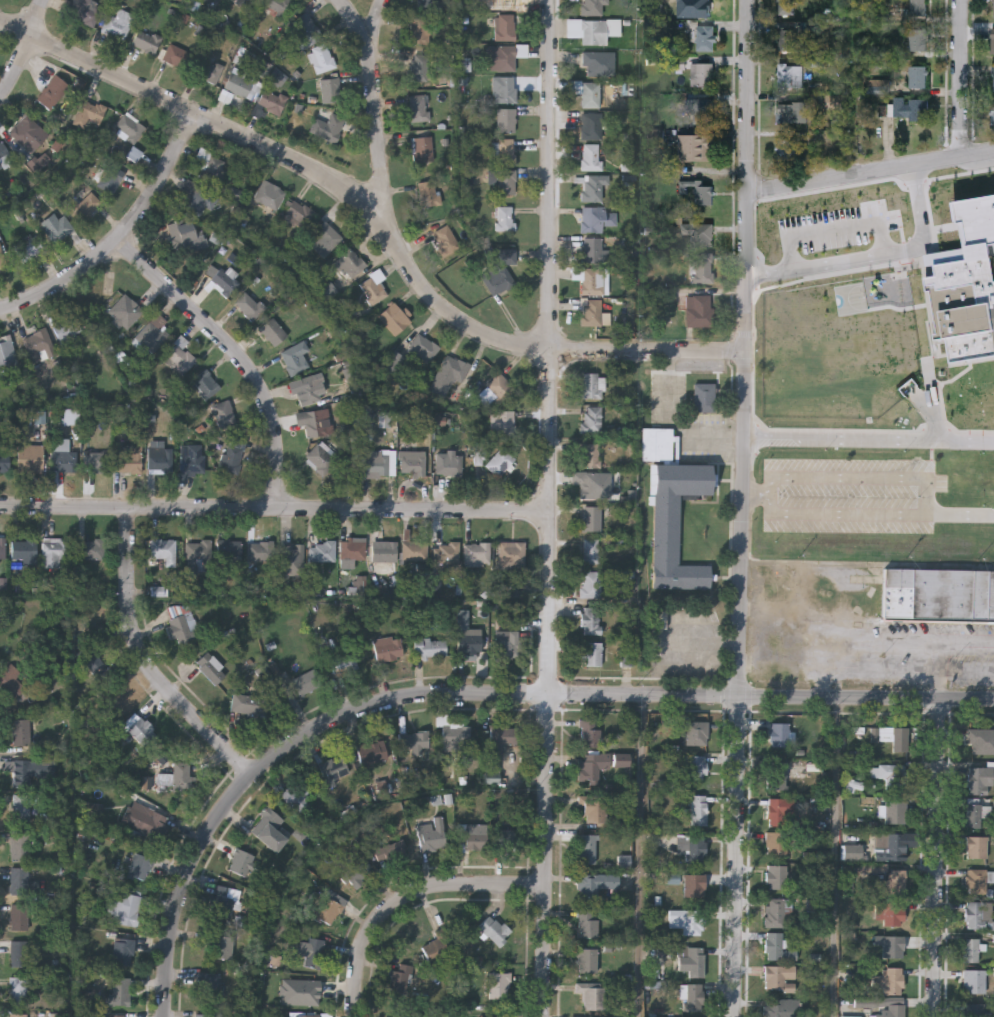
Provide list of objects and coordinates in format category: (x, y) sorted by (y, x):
building: (250, 1)
building: (428, 4)
building: (505, 4)
building: (703, 6)
building: (278, 7)
building: (592, 7)
building: (787, 7)
building: (918, 7)
building: (993, 8)
building: (85, 11)
road: (373, 22)
building: (117, 24)
building: (505, 26)
building: (305, 28)
building: (595, 29)
building: (418, 31)
building: (705, 36)
building: (785, 38)
building: (917, 39)
building: (145, 40)
building: (992, 40)
road: (23, 48)
building: (176, 55)
building: (503, 56)
building: (321, 57)
building: (591, 63)
building: (416, 66)
building: (209, 70)
building: (701, 73)
building: (790, 75)
building: (917, 76)
building: (993, 76)
road: (961, 77)
building: (238, 81)
building: (330, 88)
building: (503, 88)
building: (51, 90)
building: (589, 93)
building: (270, 101)
building: (837, 101)
building: (416, 107)
building: (909, 107)
building: (700, 109)
building: (792, 110)
building: (87, 111)
building: (992, 111)
road: (375, 113)
building: (505, 119)
building: (590, 124)
building: (129, 125)
building: (327, 126)
building: (26, 131)
building: (695, 145)
building: (785, 146)
building: (422, 147)
building: (3, 149)
building: (590, 155)
building: (506, 164)
building: (211, 168)
road: (869, 170)
parking lot: (917, 178)
building: (592, 186)
building: (427, 192)
building: (702, 192)
building: (268, 194)
building: (196, 196)
building: (90, 203)
building: (299, 210)
parking lot: (986, 215)
building: (504, 217)
building: (591, 218)
road: (372, 219)
building: (58, 227)
road: (834, 229)
building: (181, 232)
building: (701, 233)
road: (122, 237)
building: (324, 238)
building: (443, 239)
building: (26, 246)
building: (591, 249)
road: (873, 254)
building: (965, 256)
building: (2, 262)
building: (345, 263)
building: (702, 266)
building: (500, 270)
building: (225, 279)
building: (592, 280)
building: (372, 285)
building: (869, 290)
building: (249, 304)
building: (115, 309)
building: (698, 309)
building: (591, 311)
building: (393, 317)
building: (66, 326)
building: (272, 330)
building: (152, 332)
building: (37, 342)
building: (421, 346)
building: (7, 354)
road: (236, 354)
building: (179, 356)
building: (294, 356)
building: (447, 373)
building: (205, 382)
building: (590, 384)
building: (500, 386)
building: (305, 389)
building: (704, 397)
road: (939, 407)
building: (223, 412)
building: (590, 418)
road: (676, 419)
building: (315, 420)
building: (506, 422)
parking lot: (692, 422)
road: (868, 440)
building: (587, 454)
building: (29, 456)
building: (61, 456)
building: (128, 457)
building: (230, 457)
building: (320, 457)
building: (4, 458)
building: (159, 458)
building: (189, 459)
building: (411, 461)
building: (94, 462)
building: (377, 462)
building: (448, 463)
building: (589, 483)
road: (757, 497)
parking lot: (853, 497)
road: (926, 499)
road: (273, 506)
road: (546, 508)
building: (673, 508)
road: (741, 508)
road: (960, 516)
building: (593, 517)
building: (2, 547)
building: (53, 548)
building: (90, 548)
building: (22, 549)
building: (162, 549)
building: (351, 549)
building: (414, 549)
building: (259, 550)
building: (324, 550)
building: (445, 550)
building: (590, 550)
building: (383, 551)
building: (229, 552)
building: (476, 552)
building: (197, 555)
building: (511, 555)
building: (290, 560)
road: (867, 562)
building: (589, 583)
building: (938, 595)
building: (589, 619)
building: (179, 627)
road: (927, 641)
building: (468, 643)
building: (507, 643)
building: (429, 646)
parking lot: (688, 646)
building: (387, 647)
road: (659, 647)
road: (730, 650)
building: (591, 653)
road: (826, 655)
road: (149, 657)
building: (343, 661)
building: (94, 662)
building: (211, 667)
building: (10, 681)
building: (305, 681)
building: (112, 697)
road: (480, 701)
building: (248, 704)
building: (141, 728)
building: (20, 731)
building: (589, 732)
building: (696, 732)
building: (778, 733)
building: (455, 734)
building: (502, 734)
building: (891, 735)
building: (118, 737)
building: (414, 739)
building: (981, 739)
building: (370, 749)
building: (591, 766)
building: (695, 766)
building: (333, 767)
building: (23, 772)
building: (777, 774)
building: (889, 774)
building: (178, 775)
building: (493, 775)
building: (980, 779)
building: (297, 793)
building: (20, 806)
building: (593, 806)
building: (697, 808)
building: (779, 808)
building: (895, 810)
building: (973, 815)
building: (156, 826)
building: (268, 828)
building: (431, 833)
building: (497, 836)
building: (469, 839)
building: (776, 841)
building: (19, 844)
building: (691, 846)
building: (894, 846)
building: (977, 846)
building: (587, 848)
building: (392, 850)
road: (642, 860)
road: (838, 860)
building: (241, 861)
road: (941, 861)
building: (139, 865)
building: (357, 871)
building: (776, 876)
building: (18, 880)
building: (889, 881)
building: (976, 881)
building: (594, 883)
building: (693, 884)
road: (405, 895)
building: (223, 901)
building: (123, 908)
building: (776, 911)
building: (889, 912)
building: (977, 913)
building: (18, 914)
building: (687, 919)
building: (587, 922)
building: (494, 929)
building: (776, 945)
building: (219, 946)
building: (892, 946)
building: (436, 948)
building: (971, 949)
building: (122, 950)
building: (17, 951)
building: (314, 952)
building: (586, 959)
building: (691, 959)
building: (778, 977)
building: (399, 978)
building: (888, 980)
building: (975, 980)
building: (208, 984)
building: (498, 985)
building: (16, 988)
building: (120, 990)
building: (309, 992)
building: (591, 994)
building: (691, 996)
building: (780, 1007)
building: (975, 1009)
building: (895, 1010)
building: (17, 1014)
building: (207, 1015)
building: (313, 1015)
building: (394, 1016)
building: (494, 1016)

